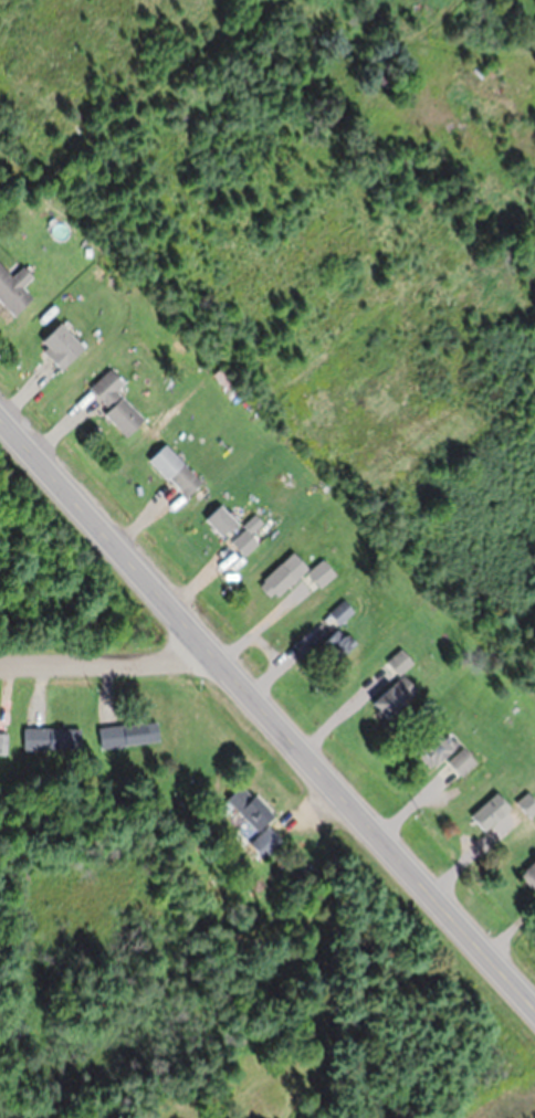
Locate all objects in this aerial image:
road: (159, 81)
building: (11, 288)
building: (56, 345)
building: (111, 401)
building: (170, 464)
building: (264, 513)
building: (222, 518)
building: (252, 521)
building: (321, 571)
building: (283, 572)
landfill: (60, 580)
building: (340, 611)
building: (339, 642)
road: (112, 657)
building: (399, 660)
building: (395, 694)
road: (266, 705)
building: (127, 732)
building: (51, 736)
building: (3, 740)
building: (436, 746)
building: (461, 759)
building: (527, 802)
building: (250, 805)
building: (490, 810)
building: (265, 840)
building: (211, 854)
building: (529, 874)
building: (264, 957)
landfill: (31, 962)
building: (259, 1058)

